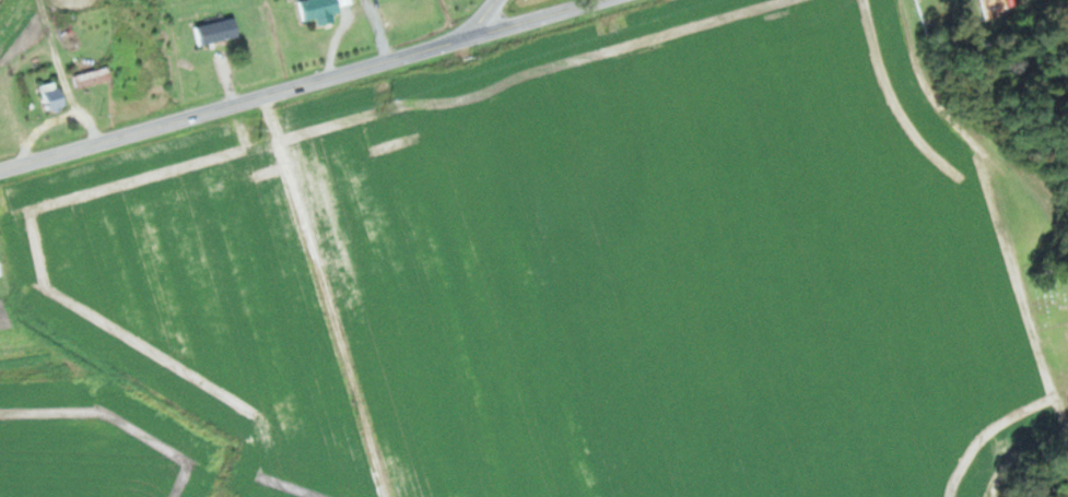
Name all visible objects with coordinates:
building: (321, 8)
road: (484, 19)
building: (221, 31)
building: (95, 76)
road: (302, 84)
building: (55, 96)
road: (56, 118)
building: (1, 268)

